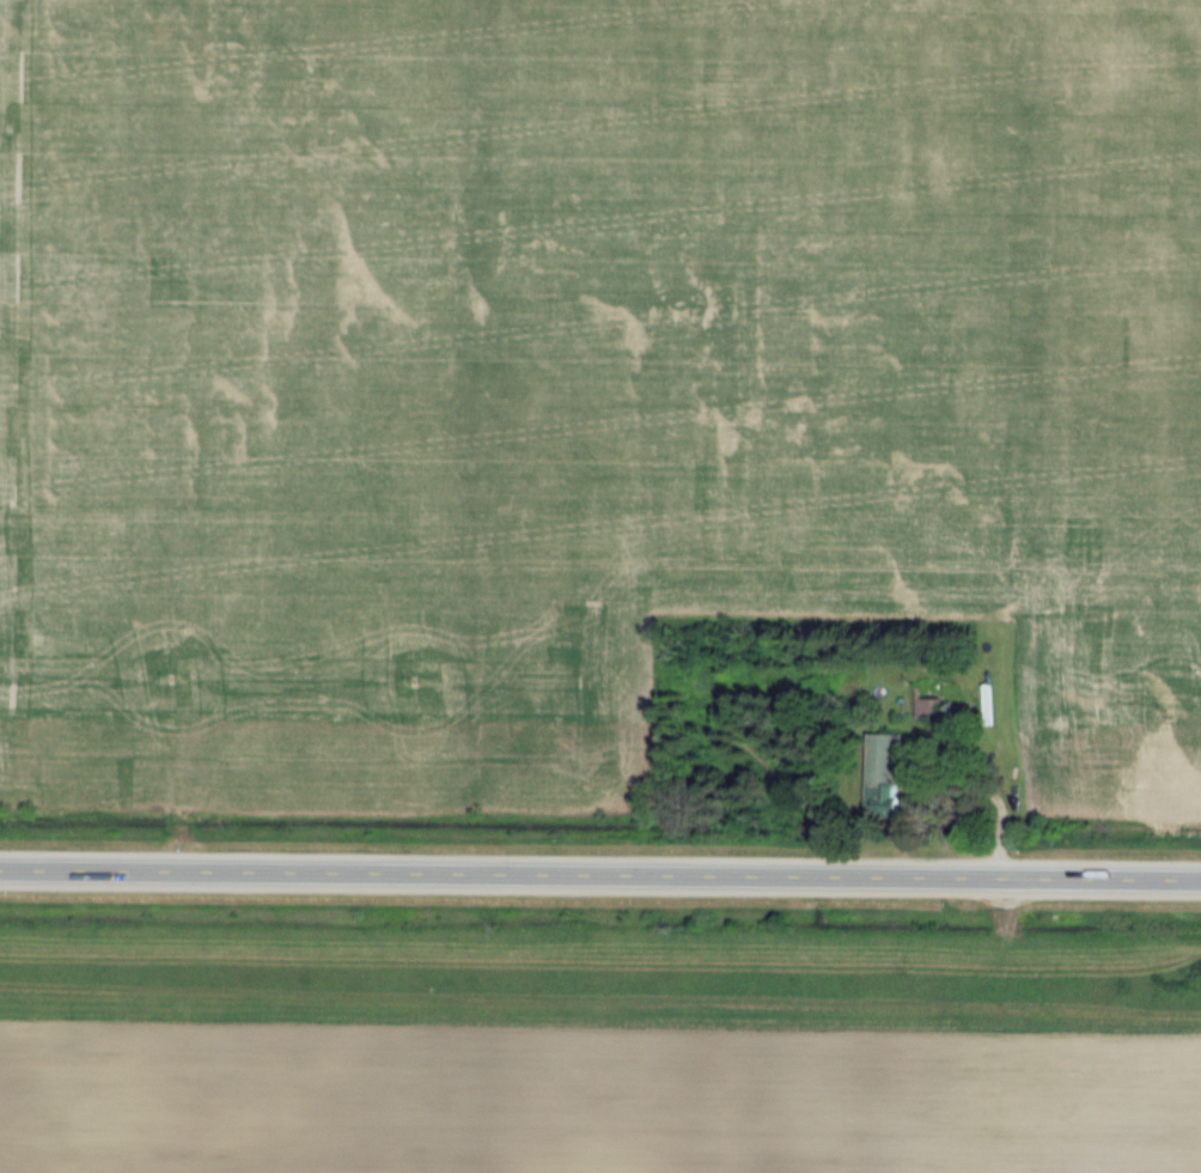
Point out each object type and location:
building: (927, 707)
building: (883, 774)
road: (994, 802)
road: (600, 869)

